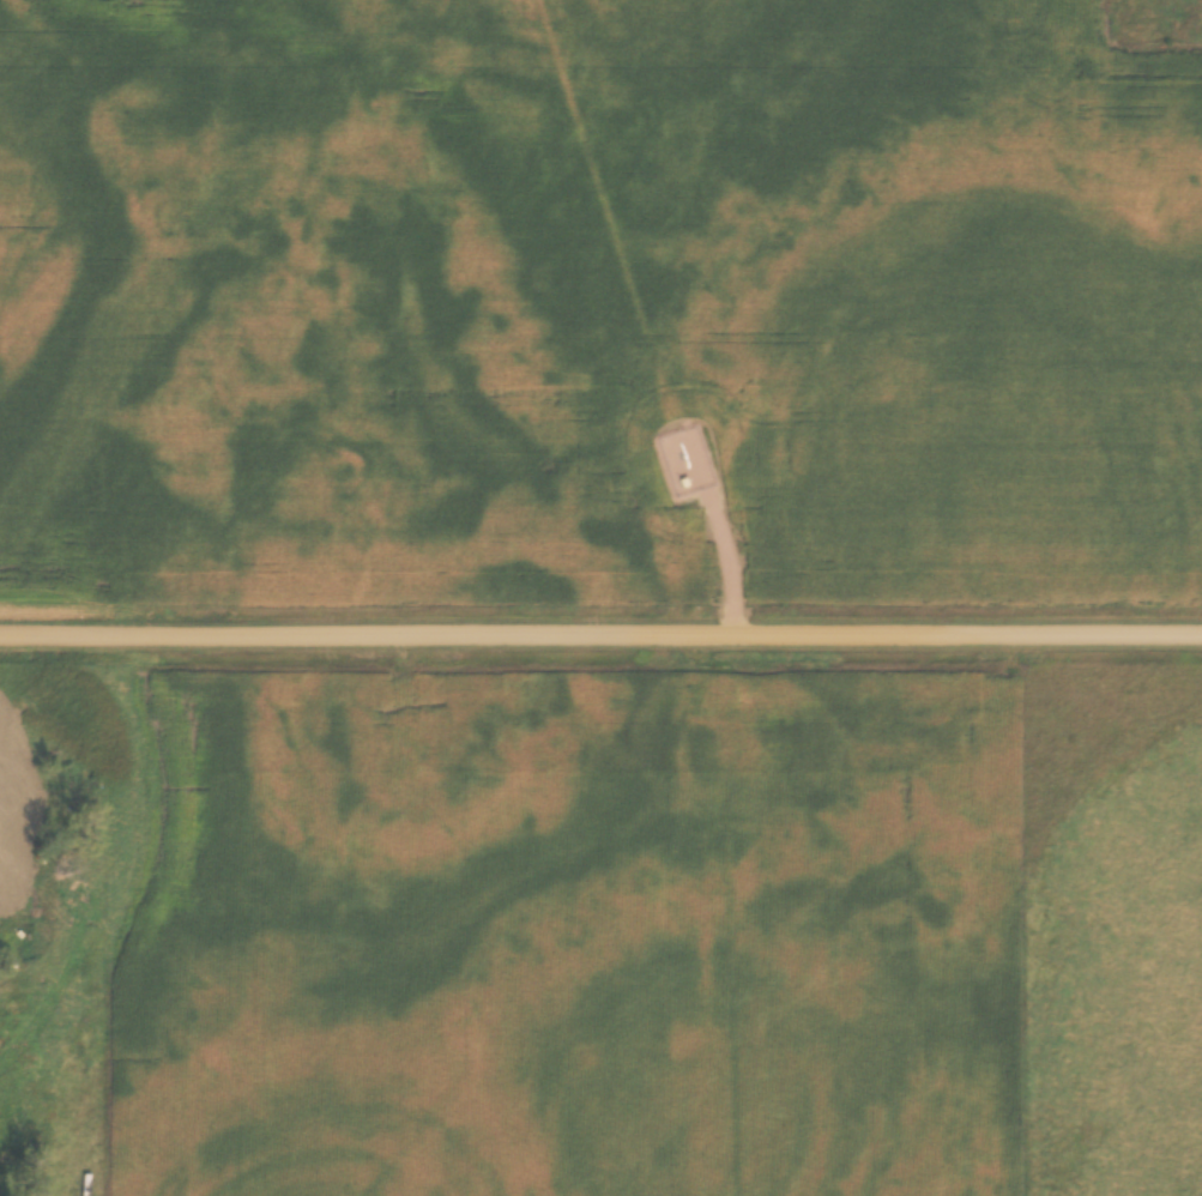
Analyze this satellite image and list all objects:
road: (600, 640)

